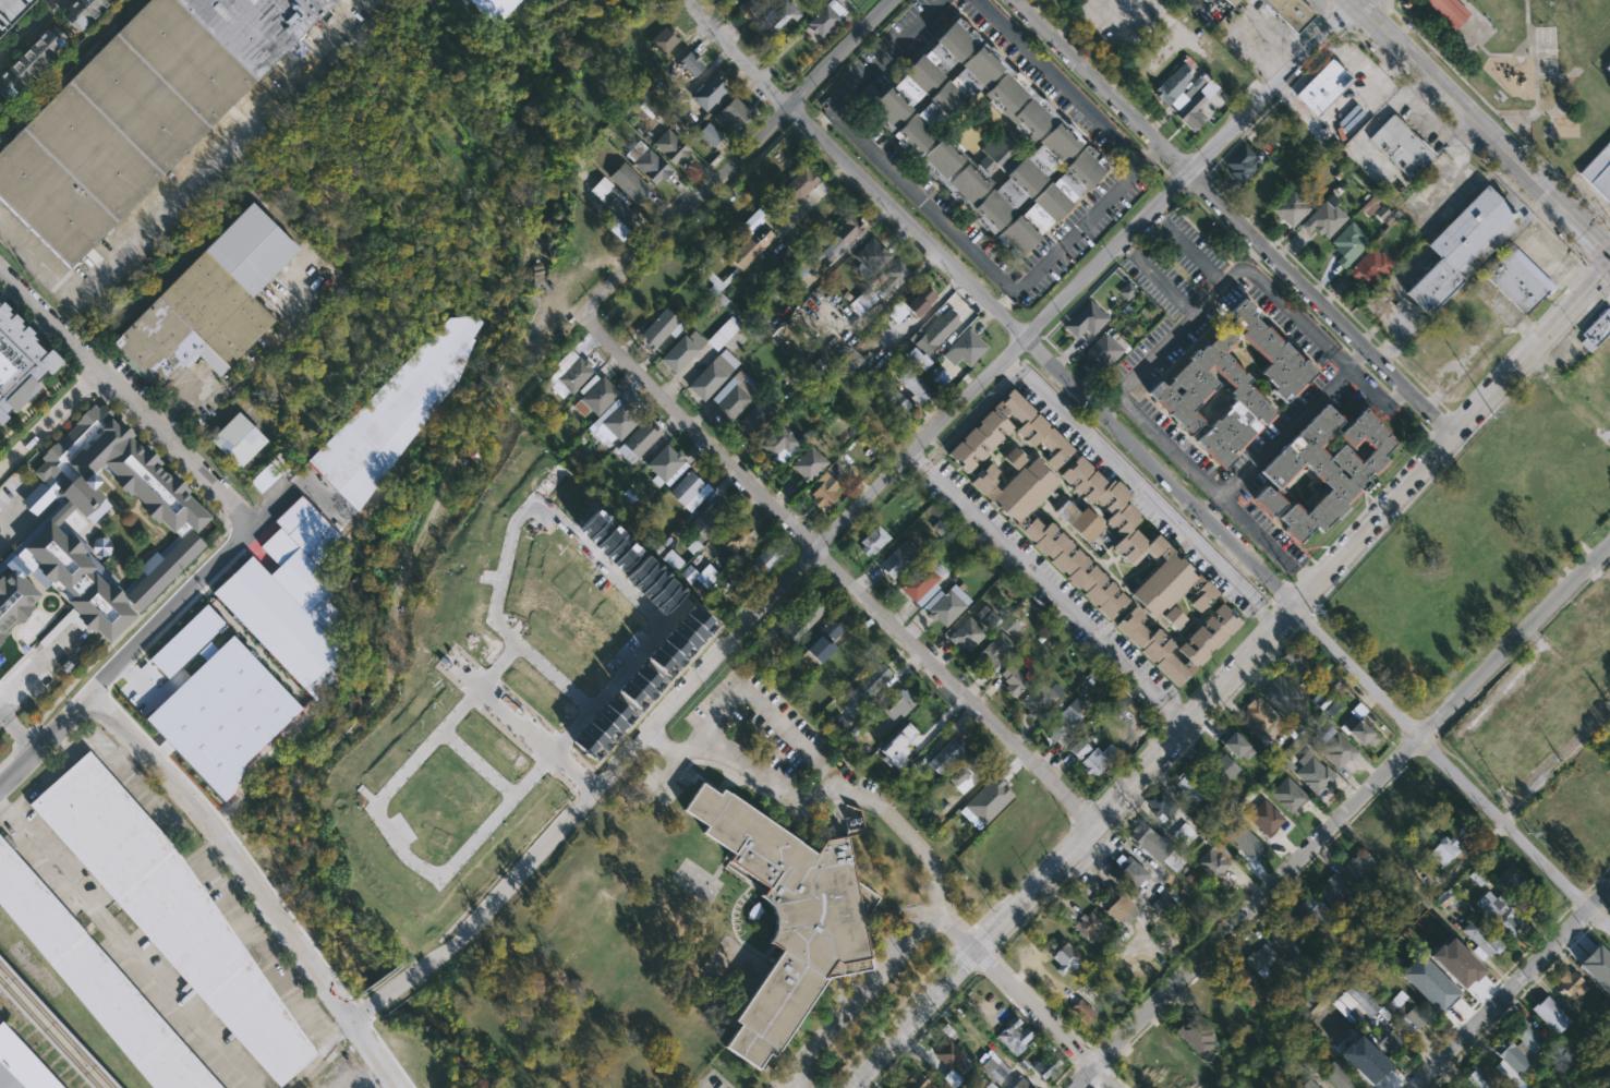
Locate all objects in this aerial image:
building: (1205, 0)
building: (1233, 1)
road: (1327, 2)
road: (1388, 2)
building: (751, 7)
building: (492, 8)
park: (1581, 9)
building: (11, 11)
parking garage: (11, 11)
building: (81, 11)
building: (1446, 11)
building: (1292, 12)
road: (1363, 12)
road: (1340, 15)
building: (777, 16)
building: (826, 17)
road: (338, 20)
building: (257, 26)
road: (1526, 26)
road: (1121, 28)
road: (28, 29)
building: (663, 40)
road: (1367, 41)
park: (1546, 49)
road: (1506, 52)
road: (737, 53)
road: (1320, 57)
building: (29, 61)
building: (690, 63)
road: (1359, 63)
road: (1390, 64)
park: (1527, 65)
building: (1608, 67)
building: (916, 75)
road: (1068, 75)
road: (1405, 78)
building: (162, 80)
road: (1057, 81)
road: (1535, 84)
building: (1323, 85)
building: (1177, 86)
building: (711, 92)
road: (1285, 92)
road: (1420, 95)
building: (1196, 106)
road: (1493, 110)
building: (734, 114)
road: (1340, 118)
road: (824, 120)
road: (1526, 120)
road: (1372, 122)
road: (1481, 128)
road: (1518, 128)
road: (1433, 131)
building: (921, 136)
building: (669, 145)
building: (1401, 146)
road: (737, 156)
road: (1150, 157)
building: (1243, 162)
building: (651, 166)
road: (1160, 168)
building: (1599, 171)
building: (71, 172)
road: (1453, 180)
road: (1508, 180)
building: (628, 181)
road: (1174, 181)
road: (1195, 181)
building: (1268, 182)
road: (246, 188)
building: (797, 188)
road: (1190, 196)
road: (812, 197)
building: (1051, 201)
building: (1291, 207)
building: (618, 214)
road: (1160, 217)
road: (1233, 217)
road: (942, 218)
building: (1324, 218)
road: (130, 226)
road: (1143, 233)
building: (838, 237)
building: (1348, 243)
building: (743, 244)
building: (1460, 245)
road: (1599, 247)
road: (1128, 250)
building: (871, 254)
road: (1586, 264)
road: (1258, 265)
building: (1371, 266)
road: (1599, 268)
road: (159, 273)
building: (893, 276)
road: (1086, 277)
road: (1576, 277)
road: (1157, 278)
building: (1517, 278)
road: (1606, 287)
road: (288, 289)
building: (1127, 291)
road: (1327, 291)
road: (1598, 295)
road: (1004, 299)
building: (208, 301)
building: (911, 303)
road: (1552, 305)
road: (1072, 309)
building: (1086, 319)
building: (659, 327)
road: (1567, 328)
building: (1596, 330)
building: (934, 331)
road: (1527, 333)
road: (37, 337)
road: (1171, 338)
building: (697, 344)
building: (1106, 347)
building: (965, 349)
building: (1272, 353)
road: (1040, 356)
road: (1354, 358)
building: (20, 363)
road: (1535, 363)
road: (1014, 366)
building: (712, 375)
building: (569, 376)
road: (1376, 378)
road: (84, 384)
building: (917, 385)
building: (594, 396)
building: (733, 396)
road: (126, 398)
building: (1177, 398)
road: (1395, 398)
building: (894, 400)
building: (1595, 401)
road: (189, 403)
road: (34, 404)
building: (394, 413)
building: (755, 416)
road: (49, 418)
road: (64, 418)
building: (614, 422)
road: (1294, 423)
road: (1441, 423)
building: (1034, 428)
road: (1452, 433)
road: (699, 434)
building: (235, 439)
building: (979, 440)
building: (637, 442)
building: (780, 445)
building: (808, 464)
building: (665, 466)
building: (1323, 468)
road: (186, 481)
road: (1149, 482)
road: (1388, 483)
building: (1017, 485)
building: (688, 491)
building: (824, 491)
road: (1417, 493)
road: (1150, 497)
building: (710, 519)
building: (1080, 521)
building: (187, 525)
building: (737, 536)
building: (1133, 540)
building: (873, 541)
road: (507, 557)
road: (595, 557)
building: (897, 559)
building: (764, 561)
building: (1075, 567)
road: (1305, 573)
building: (697, 577)
road: (1304, 578)
building: (922, 582)
road: (1287, 583)
road: (1048, 588)
road: (1299, 595)
building: (1202, 596)
road: (1282, 596)
building: (287, 603)
building: (945, 604)
road: (1284, 614)
road: (1286, 615)
road: (1264, 617)
building: (802, 618)
building: (986, 618)
road: (1305, 620)
building: (1605, 624)
road: (152, 629)
building: (966, 633)
building: (1208, 636)
building: (1576, 639)
building: (1151, 646)
building: (816, 649)
road: (386, 652)
building: (994, 653)
road: (1512, 656)
building: (1302, 663)
road: (1220, 666)
building: (138, 673)
road: (1230, 674)
building: (1602, 677)
building: (1013, 680)
building: (869, 684)
road: (957, 685)
building: (1283, 698)
building: (1040, 699)
building: (1321, 699)
building: (201, 700)
building: (1117, 704)
building: (897, 709)
building: (1257, 714)
road: (1174, 717)
building: (1517, 720)
building: (1062, 723)
building: (1359, 726)
road: (15, 732)
building: (265, 732)
building: (160, 734)
road: (796, 738)
road: (60, 741)
building: (1235, 744)
building: (1335, 747)
road: (1425, 748)
building: (1080, 750)
road: (126, 752)
road: (680, 752)
building: (945, 755)
building: (1098, 760)
road: (477, 763)
road: (1450, 767)
building: (1218, 770)
building: (965, 771)
road: (1127, 771)
building: (1314, 772)
road: (531, 773)
building: (1186, 787)
road: (592, 795)
building: (1288, 796)
building: (1609, 801)
building: (1160, 803)
road: (1351, 806)
building: (1264, 818)
road: (1100, 836)
building: (1246, 841)
building: (1151, 843)
road: (182, 844)
building: (1572, 844)
building: (1388, 847)
building: (1443, 851)
road: (213, 853)
building: (1215, 859)
building: (1359, 867)
building: (1128, 873)
road: (1599, 878)
building: (1421, 880)
road: (257, 881)
building: (1509, 881)
building: (1333, 888)
road: (1599, 897)
road: (1579, 898)
road: (1015, 905)
building: (1121, 905)
building: (165, 908)
building: (1161, 908)
road: (1259, 911)
building: (1501, 914)
building: (1316, 916)
road: (1581, 916)
road: (1600, 916)
building: (786, 918)
building: (1088, 927)
building: (1480, 940)
building: (1287, 941)
road: (128, 945)
road: (994, 951)
building: (1063, 957)
building: (1600, 958)
road: (984, 959)
building: (1262, 959)
building: (1457, 965)
road: (977, 970)
road: (981, 972)
building: (1596, 974)
building: (1240, 981)
building: (96, 983)
building: (1572, 983)
road: (1510, 988)
road: (1527, 989)
road: (1480, 996)
road: (857, 999)
building: (1356, 1002)
building: (1211, 1005)
road: (1032, 1007)
building: (1409, 1008)
building: (1550, 1014)
railway: (57, 1026)
building: (1198, 1031)
railway: (50, 1033)
building: (1013, 1033)
building: (1389, 1042)
road: (1089, 1047)
building: (1518, 1052)
road: (323, 1055)
building: (953, 1055)
building: (1357, 1055)
road: (1074, 1063)
road: (1073, 1064)
road: (1110, 1065)
building: (20, 1066)
road: (1446, 1069)
building: (997, 1072)
building: (1332, 1075)
road: (789, 1077)
road: (1081, 1077)
road: (1102, 1077)
building: (1480, 1077)
building: (1137, 1078)
road: (1118, 1079)
building: (916, 1081)
building: (1190, 1081)
building: (1017, 1083)
road: (1092, 1084)
road: (1092, 1085)
building: (1309, 1085)
road: (701, 1086)

